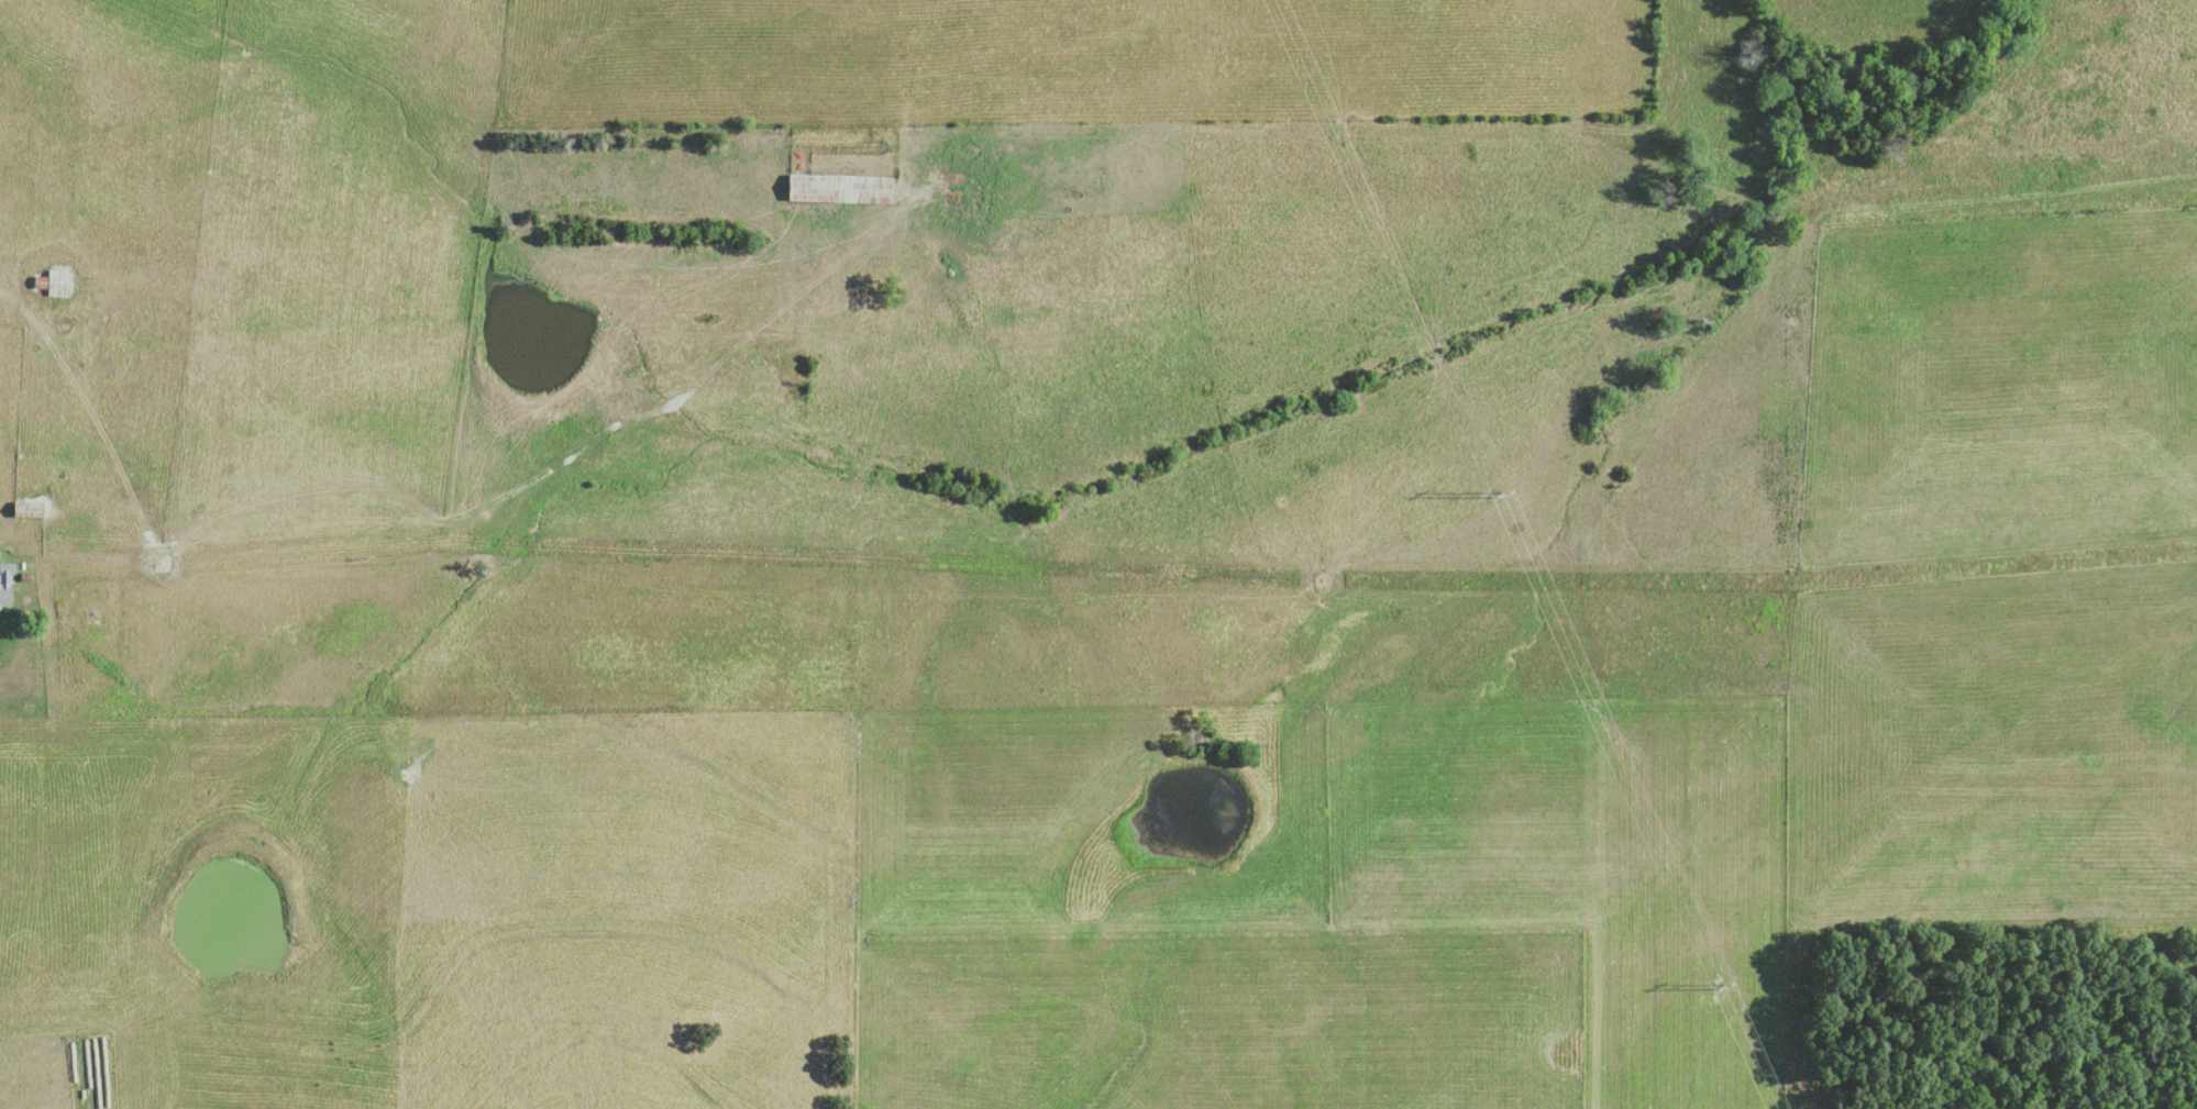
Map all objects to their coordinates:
building: (841, 187)
building: (53, 281)
road: (484, 495)
building: (30, 507)
building: (7, 584)

